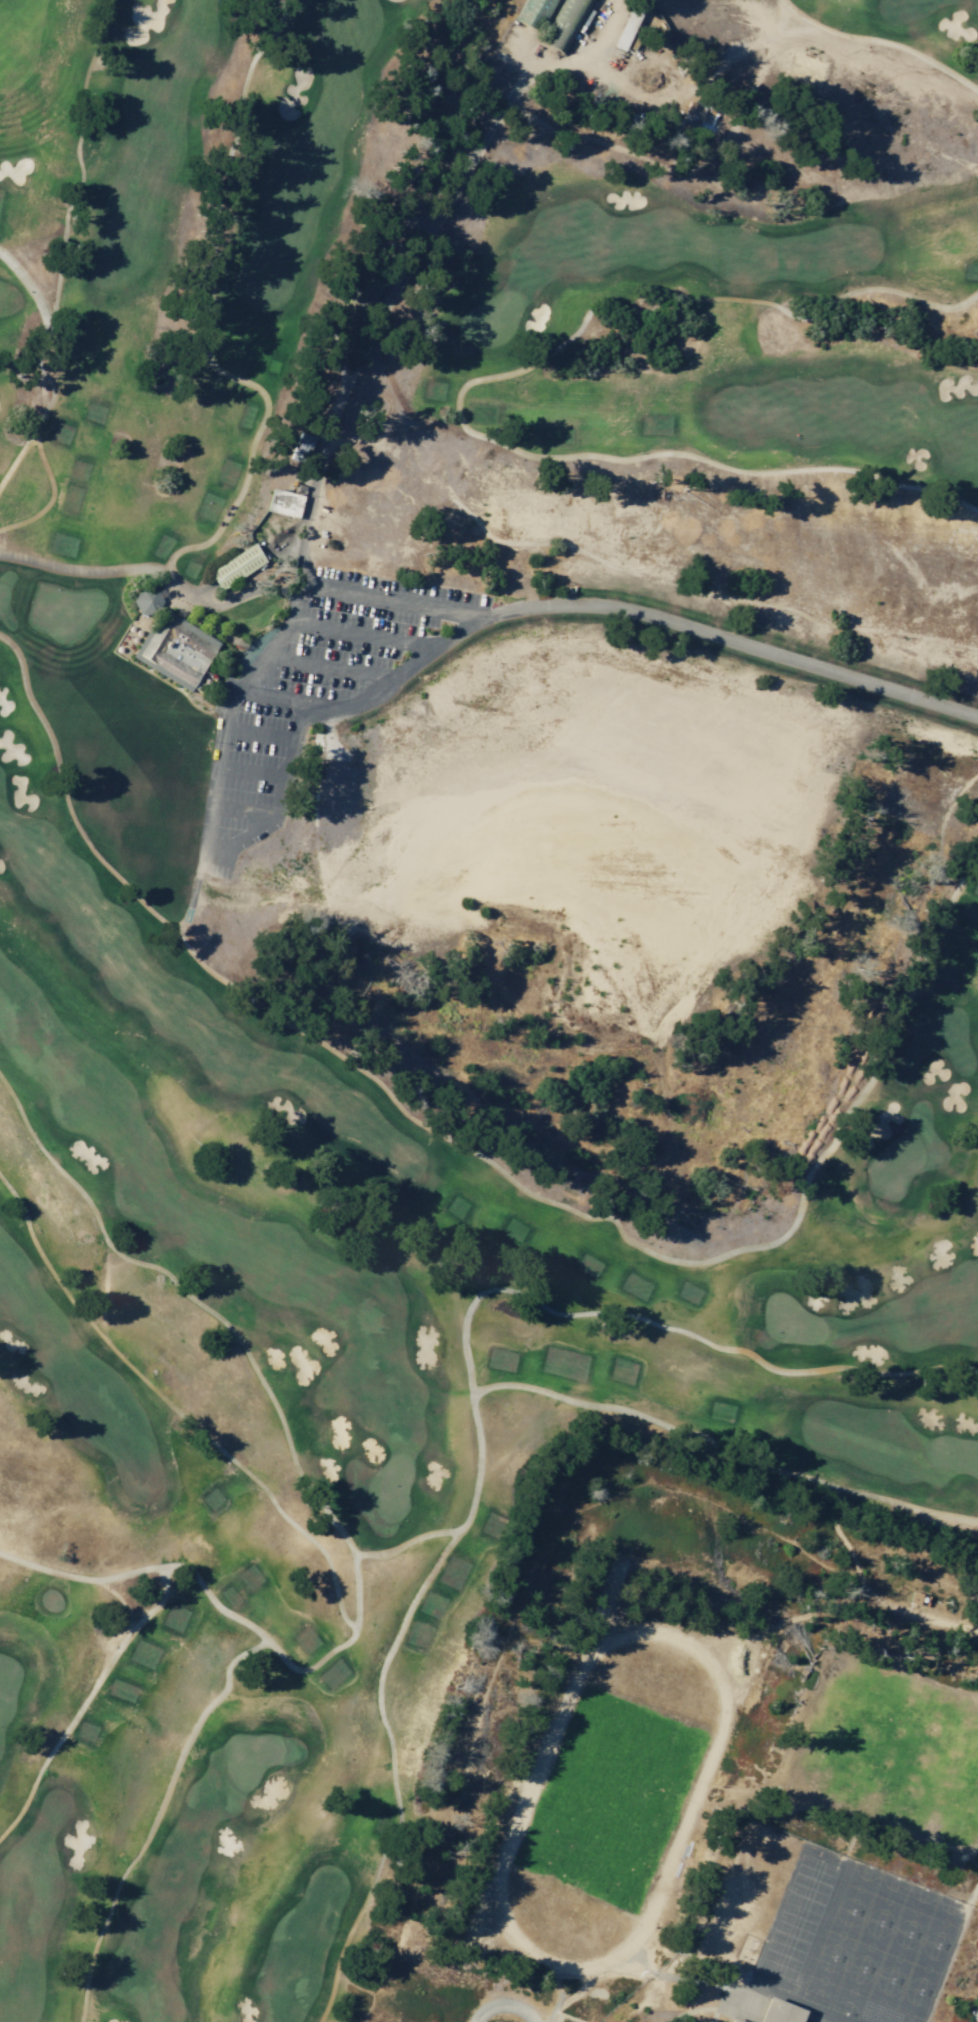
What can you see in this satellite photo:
park: (976, 6)
building: (533, 12)
building: (564, 22)
building: (627, 26)
road: (882, 39)
road: (64, 219)
road: (30, 289)
building: (356, 305)
road: (208, 316)
park: (490, 318)
road: (464, 384)
building: (301, 447)
road: (17, 456)
road: (318, 456)
road: (51, 494)
building: (284, 501)
building: (237, 565)
road: (157, 569)
park: (5, 599)
building: (146, 600)
road: (391, 601)
park: (508, 606)
park: (62, 610)
road: (363, 635)
road: (730, 639)
building: (176, 650)
road: (413, 662)
road: (329, 665)
parking lot: (317, 690)
road: (295, 700)
road: (261, 734)
road: (294, 762)
road: (255, 769)
road: (243, 809)
road: (237, 837)
park: (895, 1164)
road: (500, 1169)
road: (572, 1313)
park: (790, 1320)
road: (229, 1327)
road: (943, 1366)
road: (173, 1408)
road: (721, 1450)
park: (952, 1455)
park: (390, 1486)
park: (328, 1514)
road: (405, 1542)
road: (146, 1567)
road: (304, 1668)
park: (7, 1685)
road: (85, 1699)
park: (638, 1728)
park: (249, 1756)
road: (391, 1772)
road: (155, 1817)
park: (583, 1873)
park: (858, 1888)
park: (886, 1899)
park: (915, 1910)
park: (944, 1921)
park: (840, 1933)
park: (869, 1944)
park: (897, 1956)
park: (926, 1967)
park: (822, 1979)
park: (851, 1990)
park: (884, 1991)
park: (912, 2002)
road: (502, 2004)
building: (780, 2011)
building: (736, 2019)

